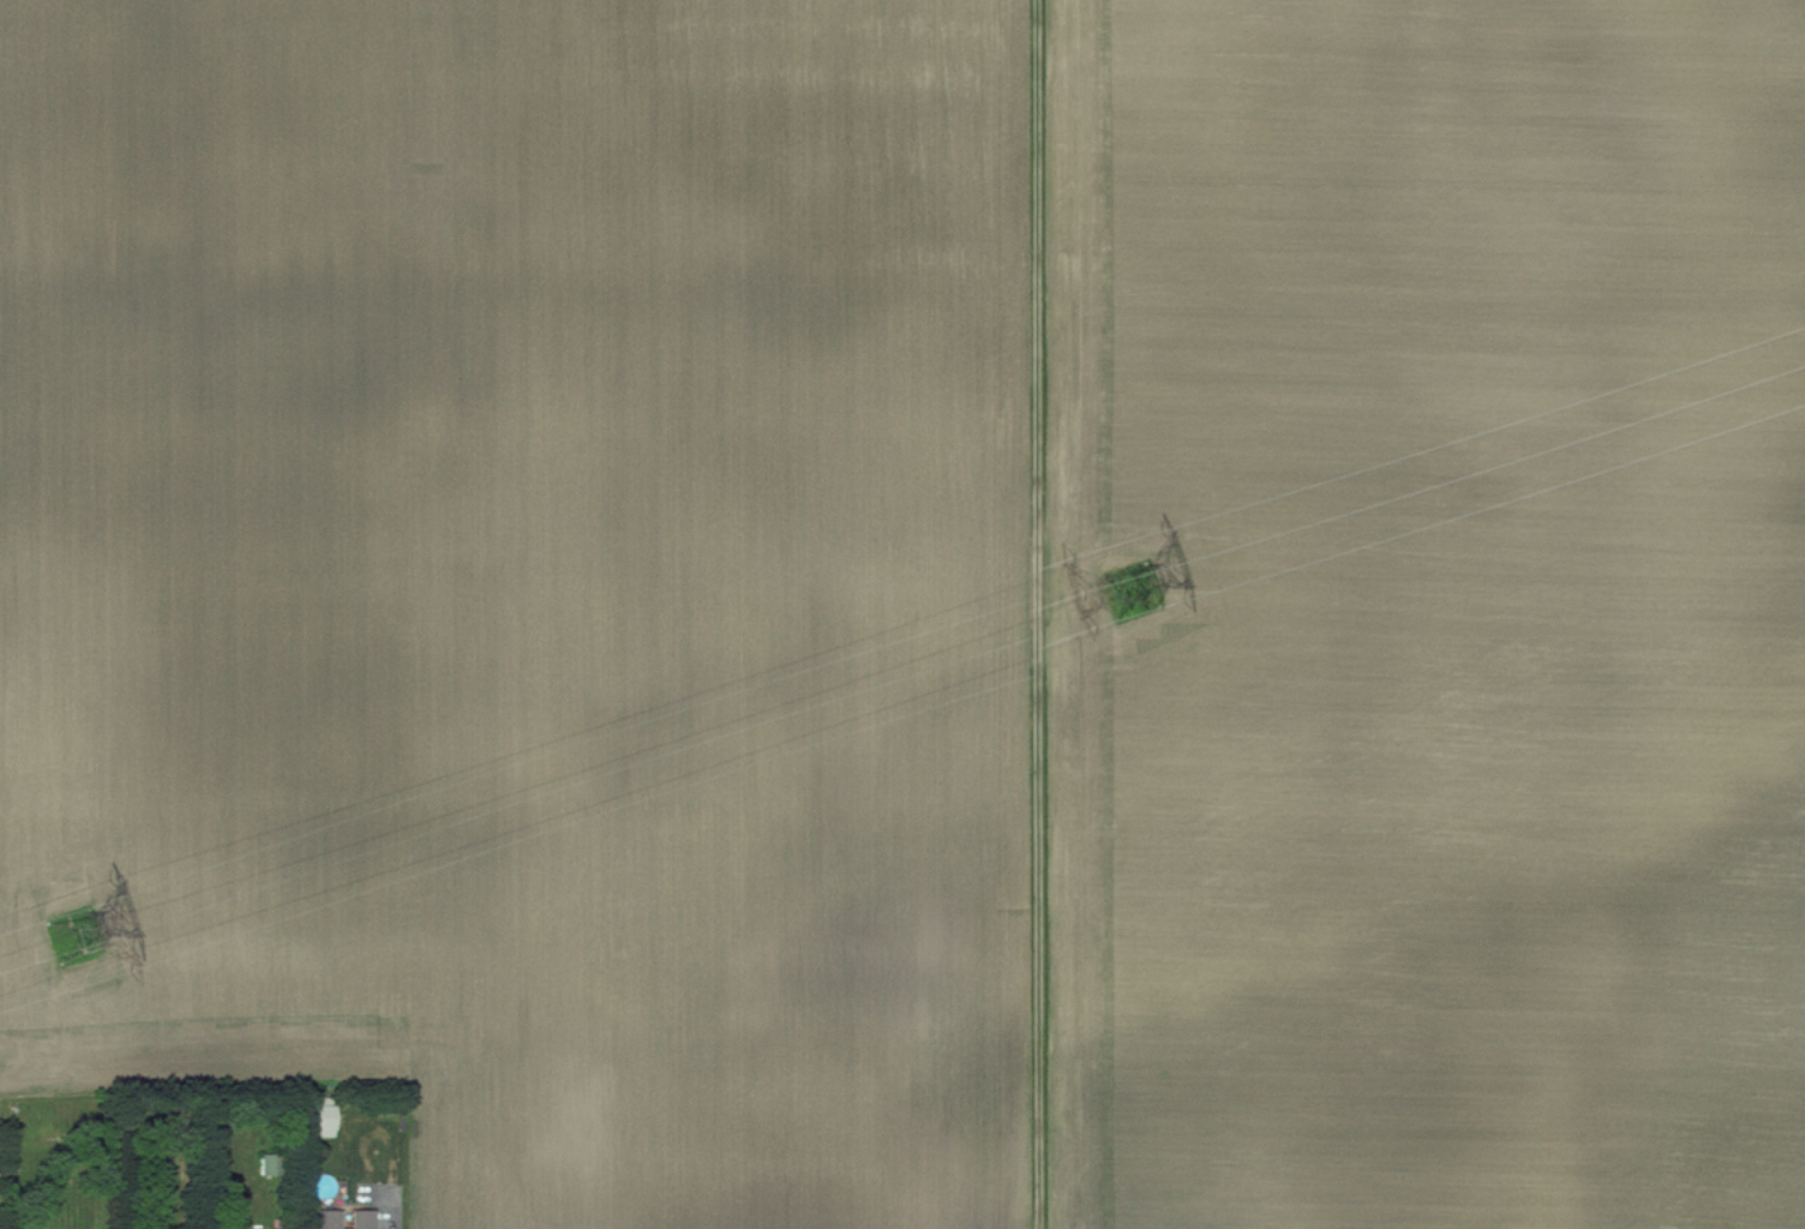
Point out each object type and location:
power tower: (1153, 558)
road: (1037, 613)
power tower: (78, 952)
road: (383, 1215)

